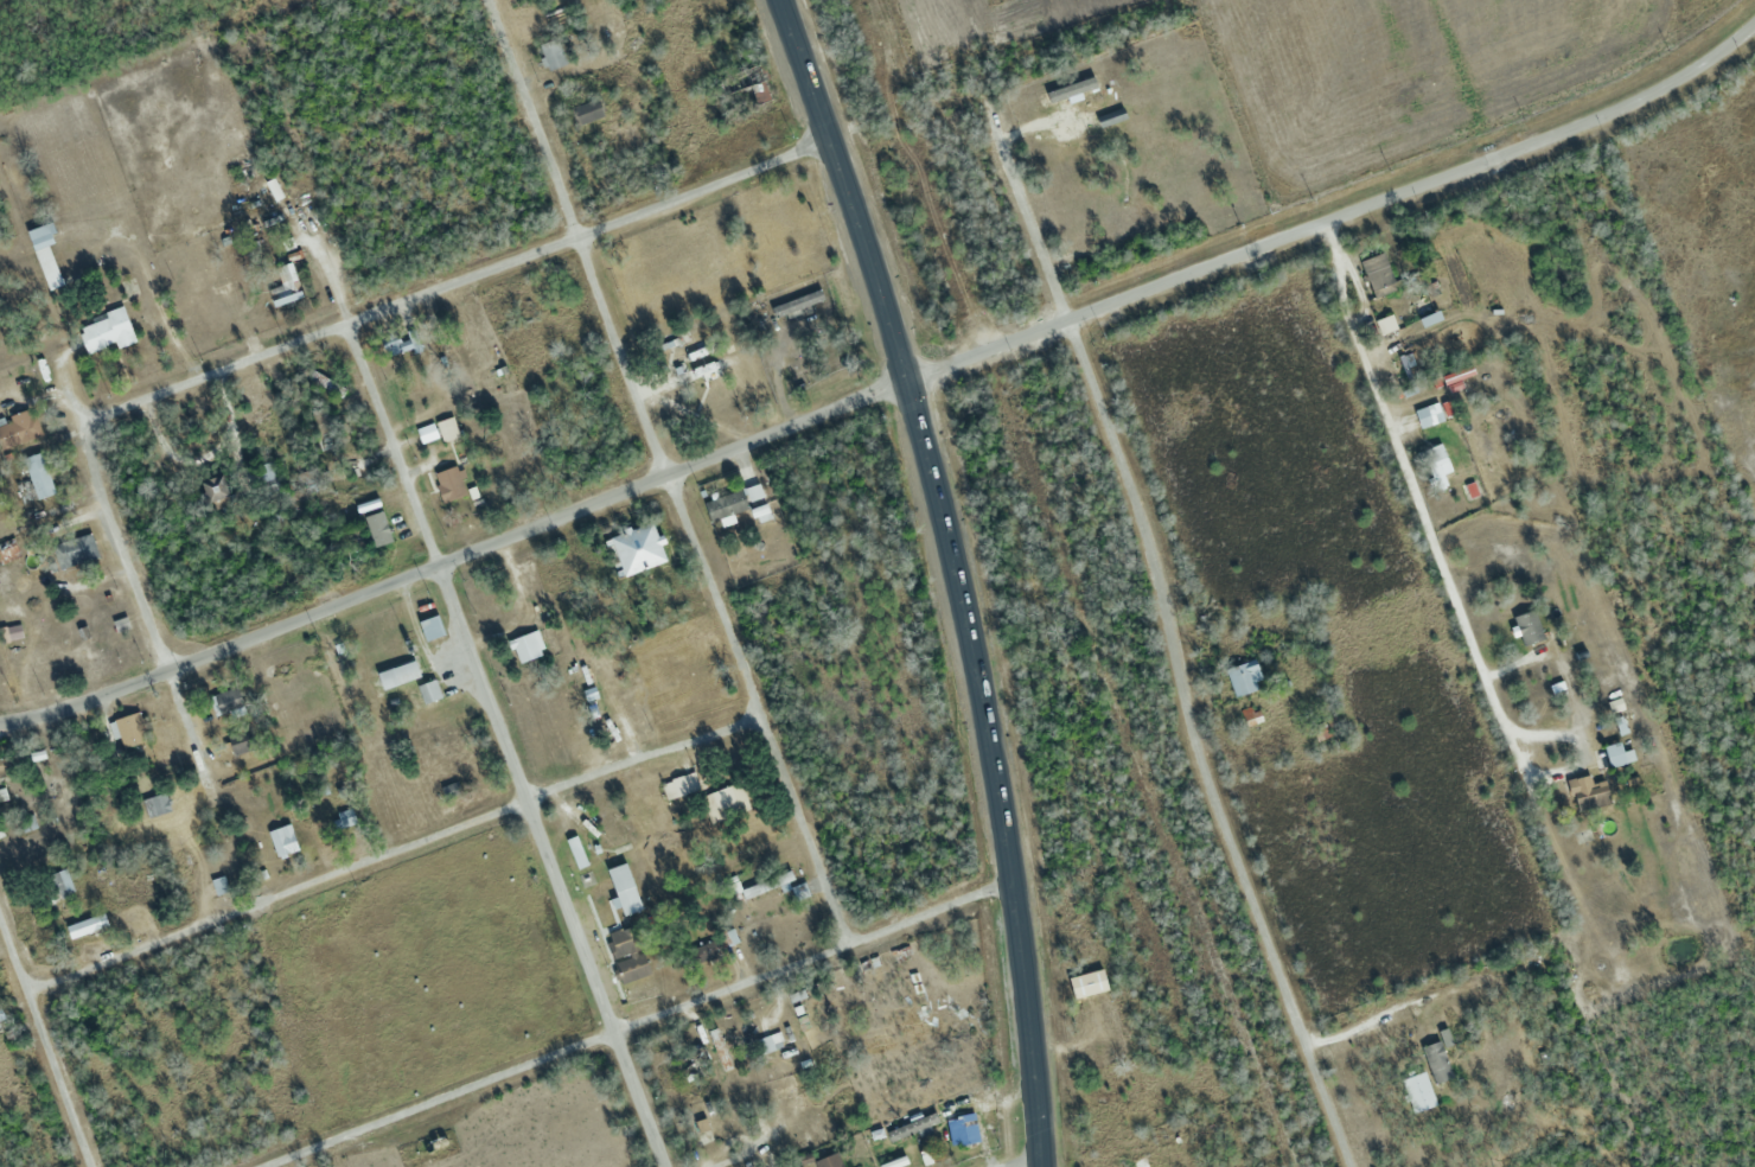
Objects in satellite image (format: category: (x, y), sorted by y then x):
building: (553, 53)
building: (759, 85)
building: (1090, 87)
building: (588, 111)
building: (1111, 117)
road: (1336, 213)
road: (573, 236)
building: (45, 255)
building: (1378, 275)
building: (286, 287)
building: (799, 300)
building: (1385, 325)
building: (106, 331)
building: (407, 343)
road: (282, 345)
building: (694, 371)
building: (323, 381)
building: (1428, 415)
building: (24, 427)
building: (447, 429)
road: (389, 442)
building: (1435, 461)
building: (38, 476)
building: (267, 478)
building: (449, 484)
building: (216, 490)
building: (753, 492)
road: (1415, 496)
building: (726, 505)
building: (636, 549)
building: (75, 550)
road: (452, 555)
road: (962, 570)
building: (9, 632)
building: (528, 645)
road: (1168, 645)
building: (398, 674)
building: (1244, 677)
building: (429, 691)
building: (225, 701)
road: (752, 706)
building: (130, 727)
building: (243, 741)
building: (1615, 753)
building: (9, 766)
building: (679, 785)
building: (1590, 793)
building: (725, 802)
building: (155, 804)
building: (345, 818)
building: (615, 831)
building: (285, 841)
road: (388, 850)
building: (575, 852)
building: (186, 865)
road: (550, 865)
building: (58, 884)
building: (624, 888)
building: (87, 925)
building: (626, 952)
building: (706, 952)
road: (636, 1021)
building: (1, 1023)
building: (770, 1041)
road: (43, 1048)
building: (719, 1050)
building: (1417, 1092)
building: (959, 1130)
road: (1026, 1161)
building: (1141, 1161)
building: (830, 1162)

